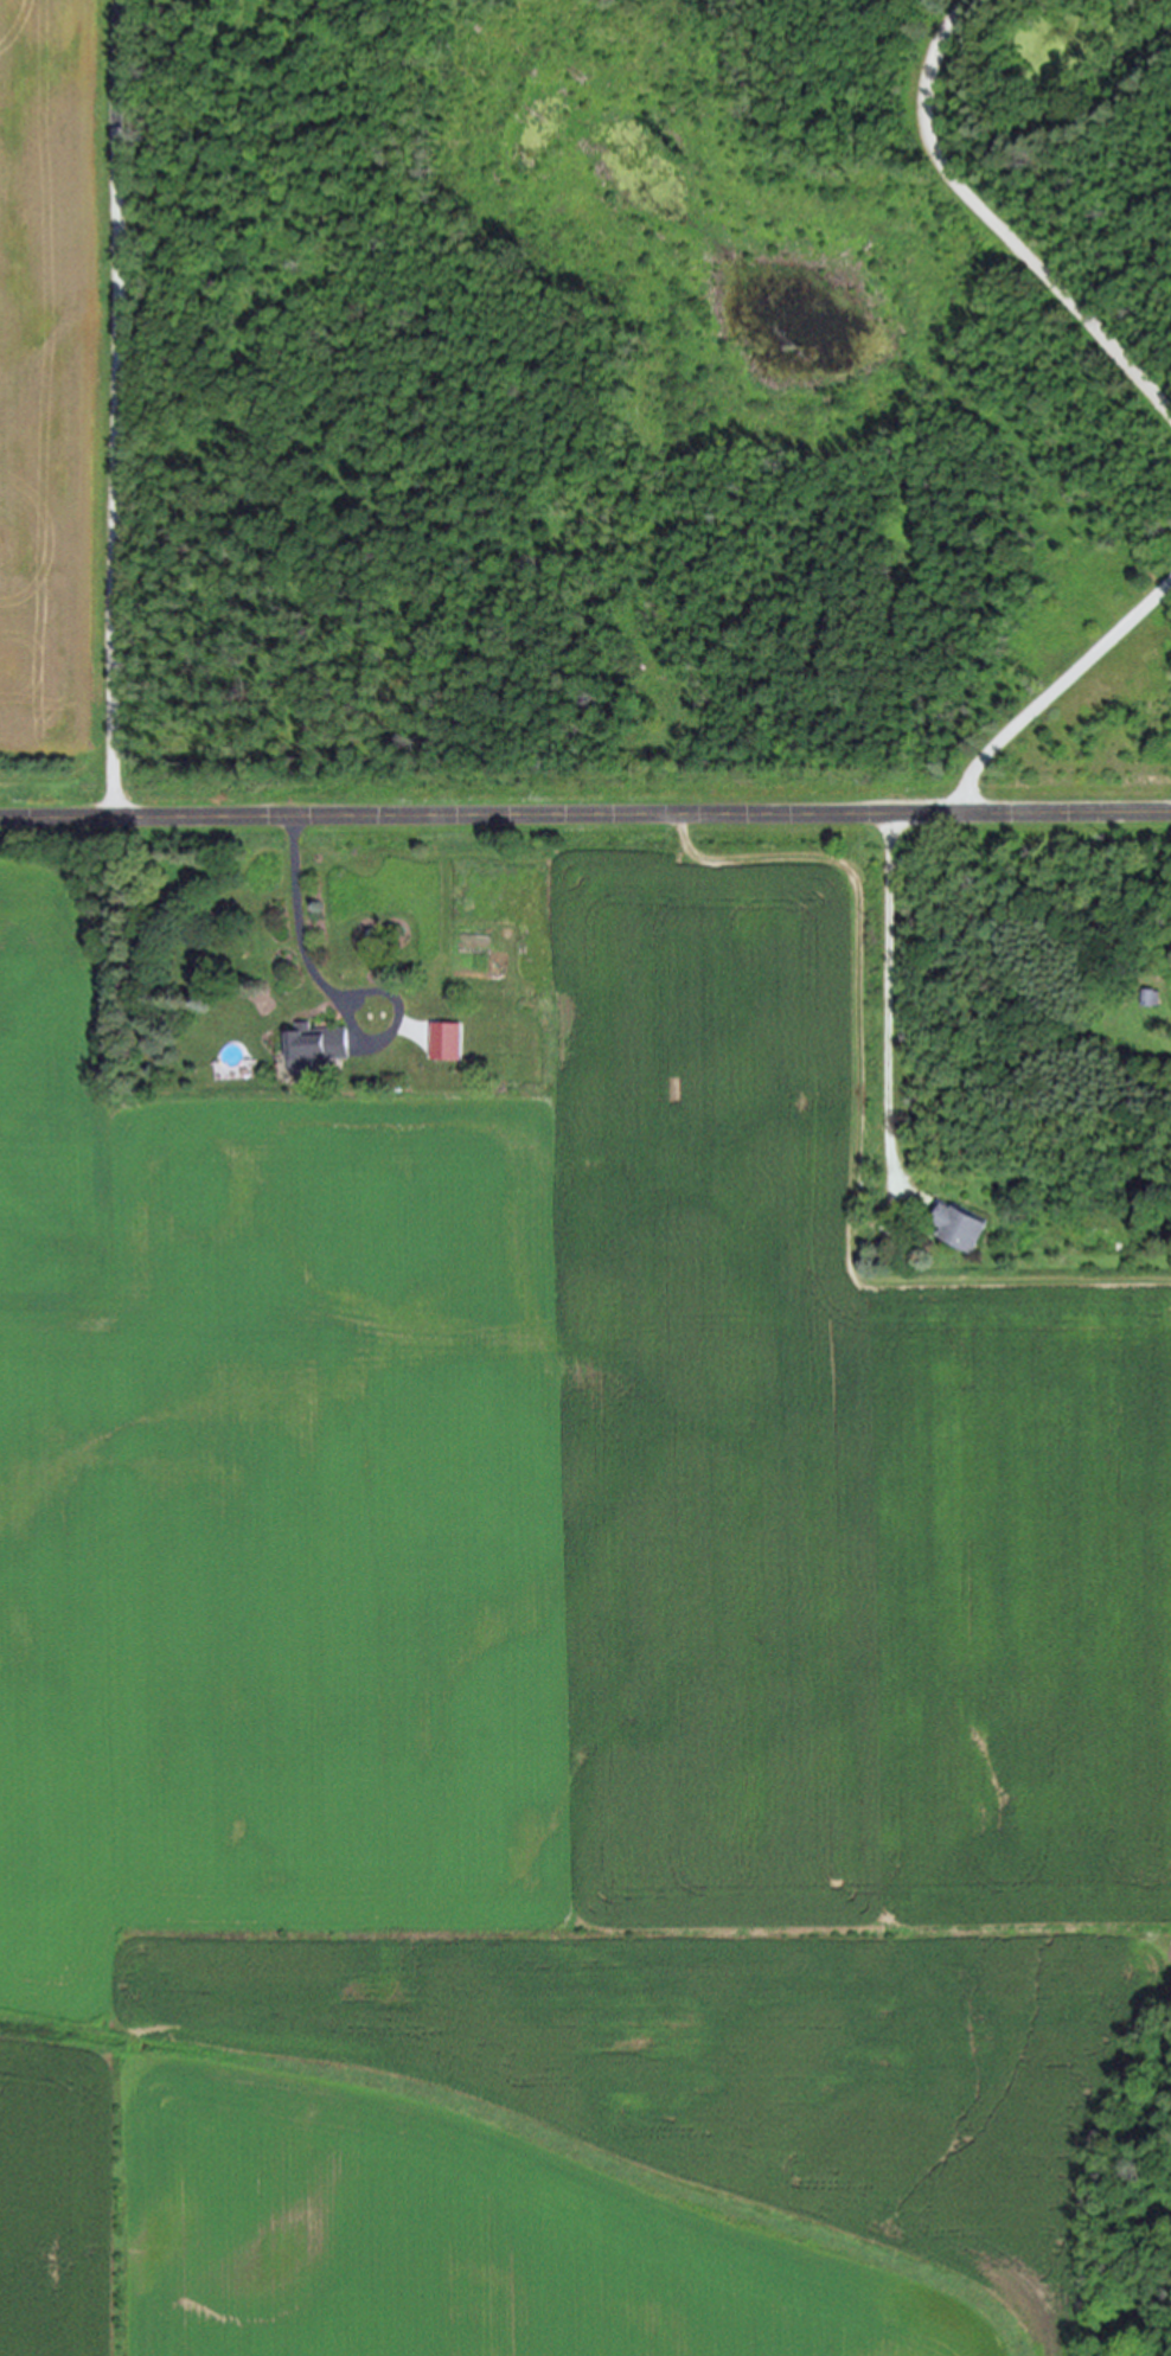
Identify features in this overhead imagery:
road: (994, 224)
road: (119, 409)
road: (1057, 692)
road: (584, 814)
road: (313, 962)
road: (890, 995)
building: (444, 1042)
building: (955, 1227)

